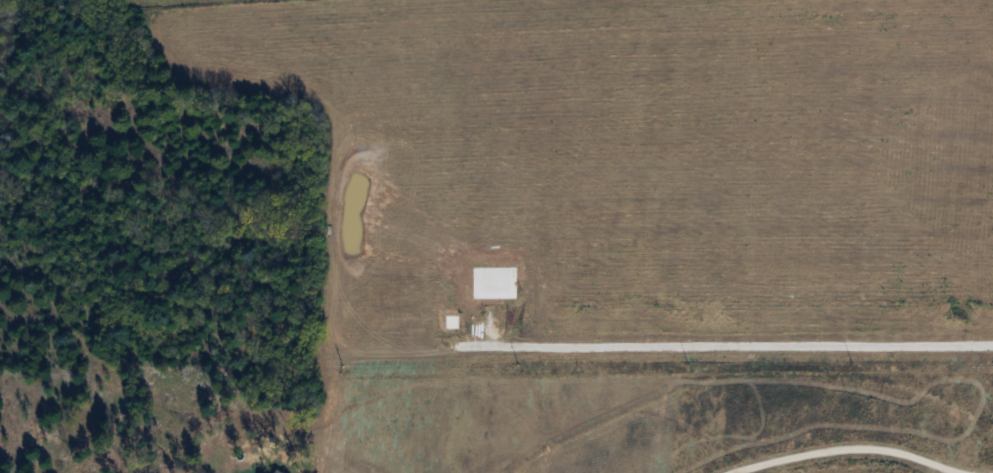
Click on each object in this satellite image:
road: (850, 448)

